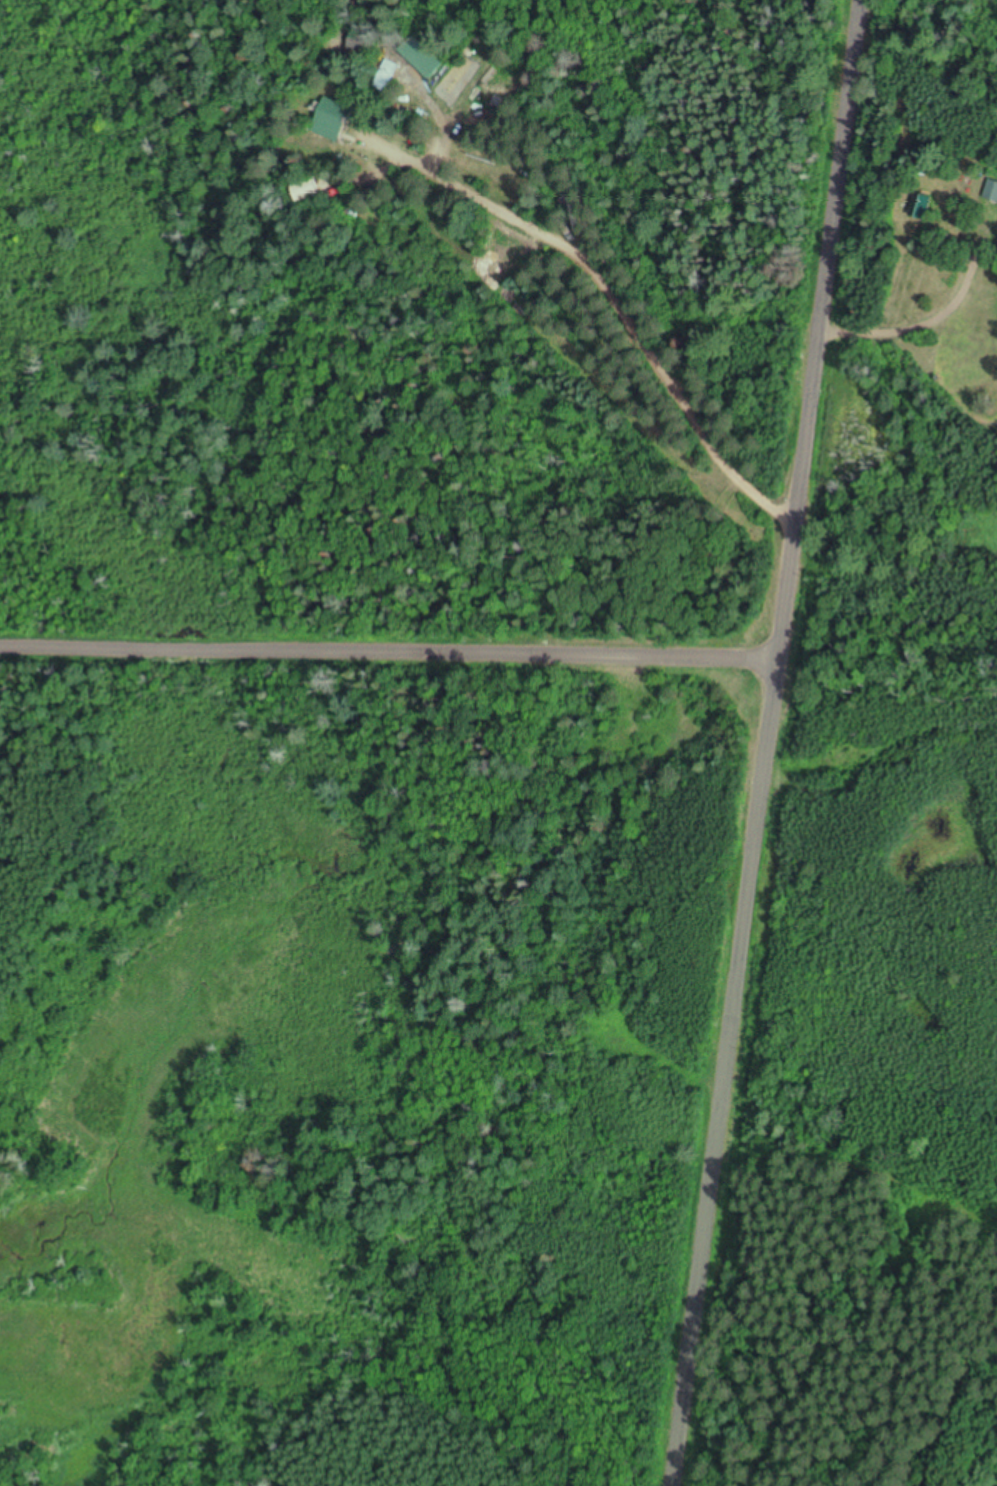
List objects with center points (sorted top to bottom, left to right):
building: (359, 44)
building: (387, 75)
building: (332, 120)
building: (303, 192)
building: (921, 208)
road: (387, 658)
road: (766, 743)

